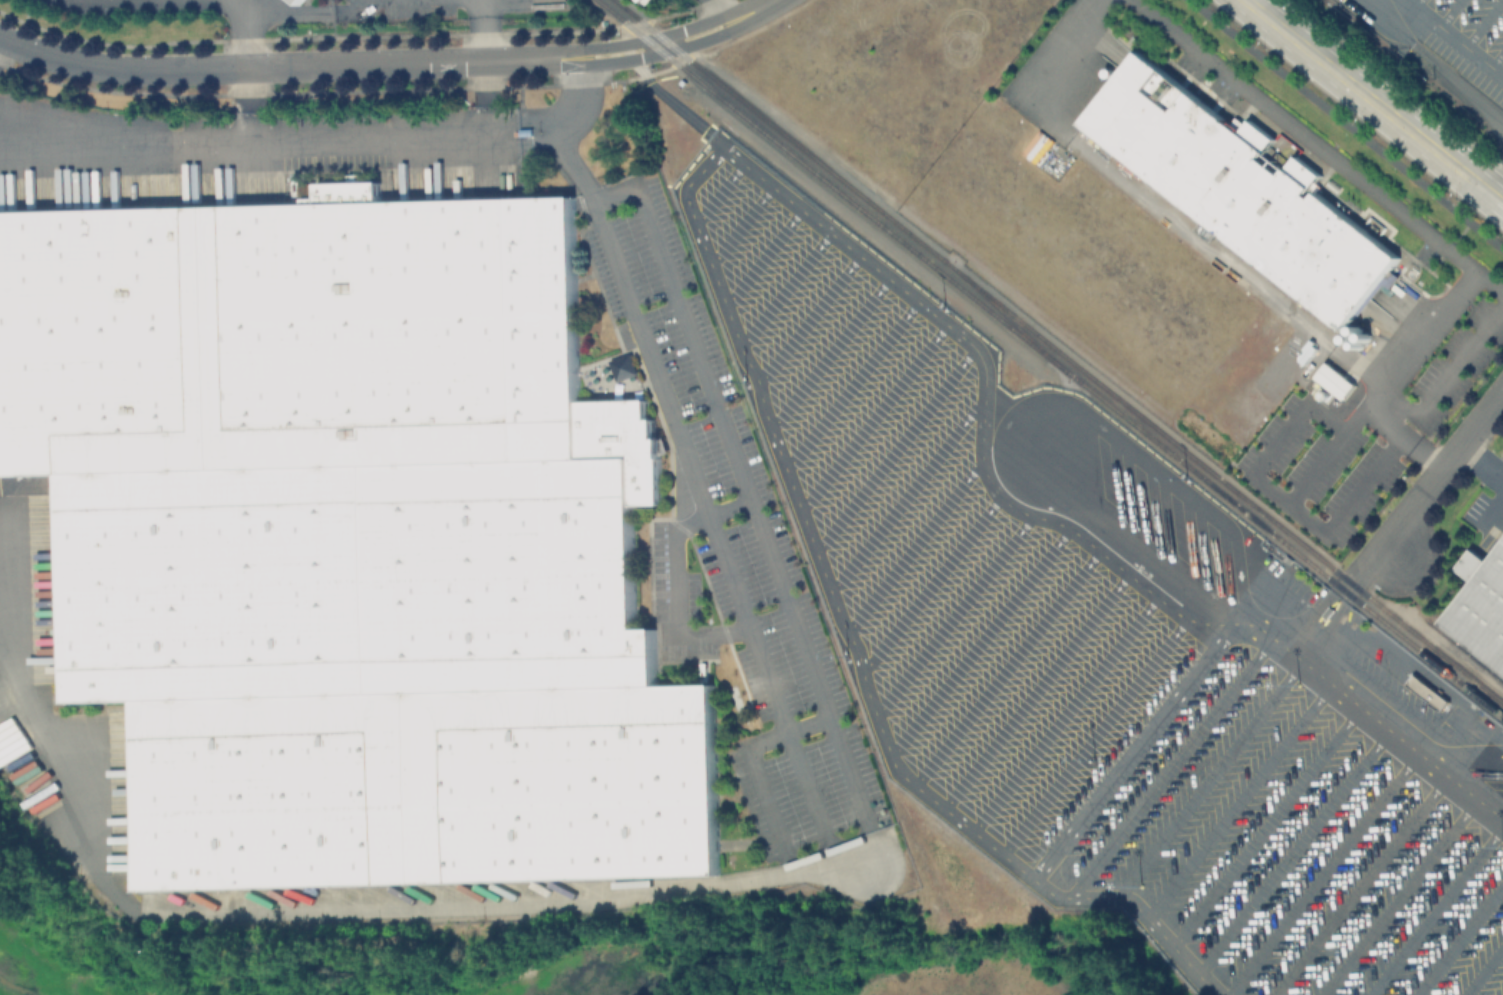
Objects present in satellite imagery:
road: (127, 0)
building: (298, 3)
road: (1415, 5)
road: (716, 13)
road: (748, 14)
road: (1448, 14)
railway: (624, 23)
road: (1482, 24)
road: (487, 27)
road: (246, 31)
road: (1451, 39)
road: (653, 47)
road: (1495, 58)
road: (288, 65)
road: (1373, 101)
road: (1346, 124)
road: (560, 128)
road: (276, 139)
building: (1244, 191)
road: (718, 193)
road: (594, 197)
road: (686, 197)
road: (1155, 205)
road: (1411, 220)
road: (740, 224)
road: (1459, 236)
road: (762, 255)
road: (786, 289)
road: (808, 318)
railway: (1009, 322)
road: (830, 350)
railway: (1058, 352)
building: (626, 368)
building: (1333, 380)
road: (852, 382)
railway: (1077, 383)
road: (874, 415)
building: (624, 444)
road: (896, 446)
road: (1480, 462)
road: (1440, 468)
road: (908, 492)
road: (713, 519)
road: (914, 543)
building: (347, 547)
building: (1473, 565)
road: (931, 582)
road: (678, 602)
road: (954, 612)
building: (1482, 614)
road: (982, 637)
railway: (1464, 652)
road: (1008, 666)
road: (1037, 688)
building: (1427, 691)
road: (1338, 696)
road: (1066, 711)
road: (1095, 735)
road: (754, 759)
road: (1106, 788)
road: (726, 886)

